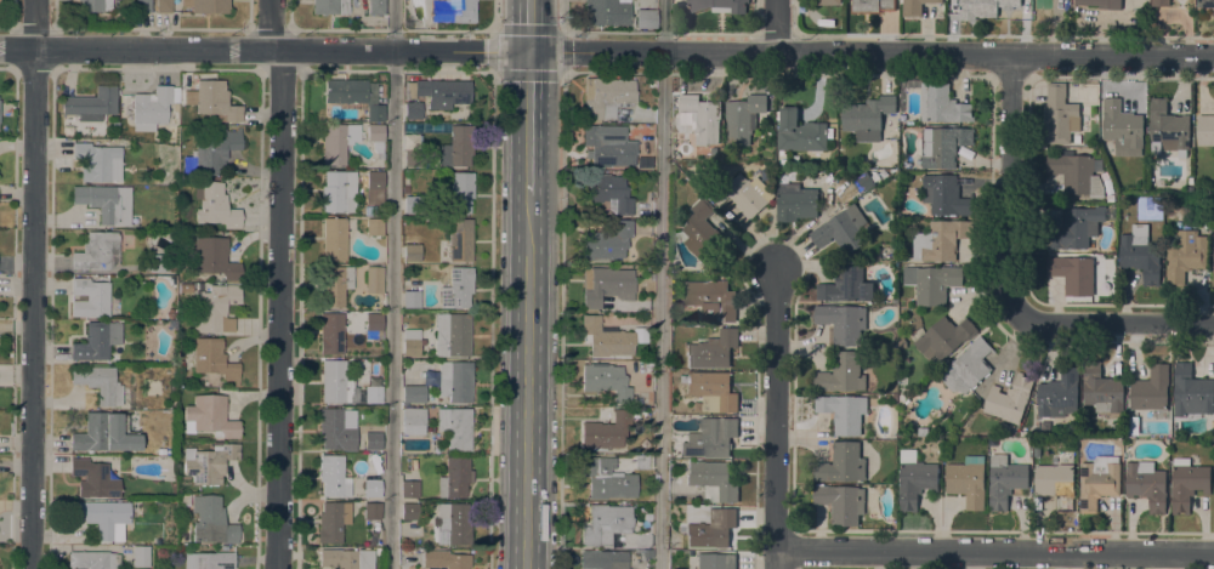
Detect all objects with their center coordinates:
building: (828, 1)
building: (1159, 2)
building: (1101, 4)
building: (1206, 4)
building: (93, 5)
building: (719, 5)
building: (143, 6)
building: (163, 6)
building: (205, 6)
building: (872, 6)
building: (915, 6)
building: (329, 7)
building: (375, 7)
building: (976, 8)
building: (452, 11)
building: (606, 12)
road: (565, 13)
road: (494, 16)
building: (645, 19)
building: (822, 21)
road: (271, 25)
road: (529, 27)
road: (777, 27)
road: (566, 30)
road: (756, 33)
road: (563, 34)
road: (676, 34)
road: (798, 34)
road: (777, 35)
road: (988, 35)
traffic signals: (528, 53)
road: (606, 53)
building: (439, 92)
building: (354, 96)
building: (189, 97)
building: (607, 97)
building: (215, 102)
building: (91, 104)
building: (942, 104)
building: (148, 108)
building: (412, 110)
building: (1060, 115)
building: (700, 118)
building: (743, 118)
building: (867, 118)
road: (528, 124)
building: (1122, 127)
building: (1168, 127)
building: (1206, 130)
building: (799, 132)
building: (375, 138)
building: (1074, 138)
building: (336, 143)
building: (607, 146)
building: (941, 146)
building: (456, 148)
building: (210, 155)
building: (412, 159)
building: (783, 161)
building: (97, 163)
building: (1078, 173)
building: (864, 181)
road: (1008, 187)
building: (374, 188)
building: (404, 190)
building: (607, 192)
building: (337, 193)
building: (458, 194)
building: (742, 194)
building: (944, 195)
building: (1110, 199)
building: (106, 203)
building: (795, 203)
building: (412, 205)
building: (214, 206)
building: (1077, 227)
building: (374, 229)
building: (841, 229)
building: (702, 232)
building: (335, 238)
building: (459, 240)
building: (940, 240)
building: (606, 243)
building: (97, 252)
building: (1213, 252)
building: (412, 254)
building: (1140, 256)
building: (1185, 256)
building: (214, 258)
building: (163, 263)
building: (1076, 273)
building: (373, 280)
building: (932, 283)
road: (34, 284)
road: (392, 284)
road: (660, 284)
building: (846, 284)
building: (336, 285)
building: (605, 286)
building: (183, 288)
building: (199, 288)
building: (456, 289)
building: (89, 298)
building: (410, 300)
building: (711, 300)
building: (215, 308)
road: (282, 311)
road: (490, 322)
road: (561, 322)
building: (843, 323)
building: (373, 326)
road: (1114, 326)
building: (330, 334)
building: (452, 335)
building: (943, 337)
building: (605, 338)
building: (96, 342)
building: (410, 342)
building: (713, 349)
building: (212, 360)
building: (968, 366)
building: (843, 374)
building: (606, 381)
building: (454, 382)
road: (526, 382)
building: (98, 383)
building: (344, 387)
building: (711, 389)
building: (1101, 389)
building: (1151, 389)
building: (1192, 393)
building: (413, 394)
building: (1059, 397)
building: (1009, 399)
building: (697, 408)
building: (843, 412)
building: (209, 417)
building: (413, 421)
road: (777, 421)
building: (454, 427)
building: (336, 428)
building: (605, 432)
building: (923, 432)
building: (103, 434)
building: (710, 439)
building: (373, 442)
building: (641, 462)
building: (208, 463)
building: (841, 463)
building: (333, 477)
building: (454, 478)
building: (93, 479)
building: (606, 479)
building: (914, 479)
building: (711, 480)
building: (1005, 480)
building: (968, 482)
building: (1097, 482)
building: (1187, 483)
building: (1146, 484)
building: (1056, 485)
building: (371, 489)
building: (409, 489)
building: (841, 503)
building: (371, 511)
building: (408, 511)
building: (102, 517)
building: (211, 519)
building: (331, 522)
building: (453, 523)
building: (605, 524)
building: (711, 529)
building: (378, 552)
building: (646, 553)
road: (995, 553)
building: (140, 557)
building: (346, 559)
building: (444, 559)
building: (603, 559)
building: (92, 561)
building: (208, 561)
building: (715, 561)

